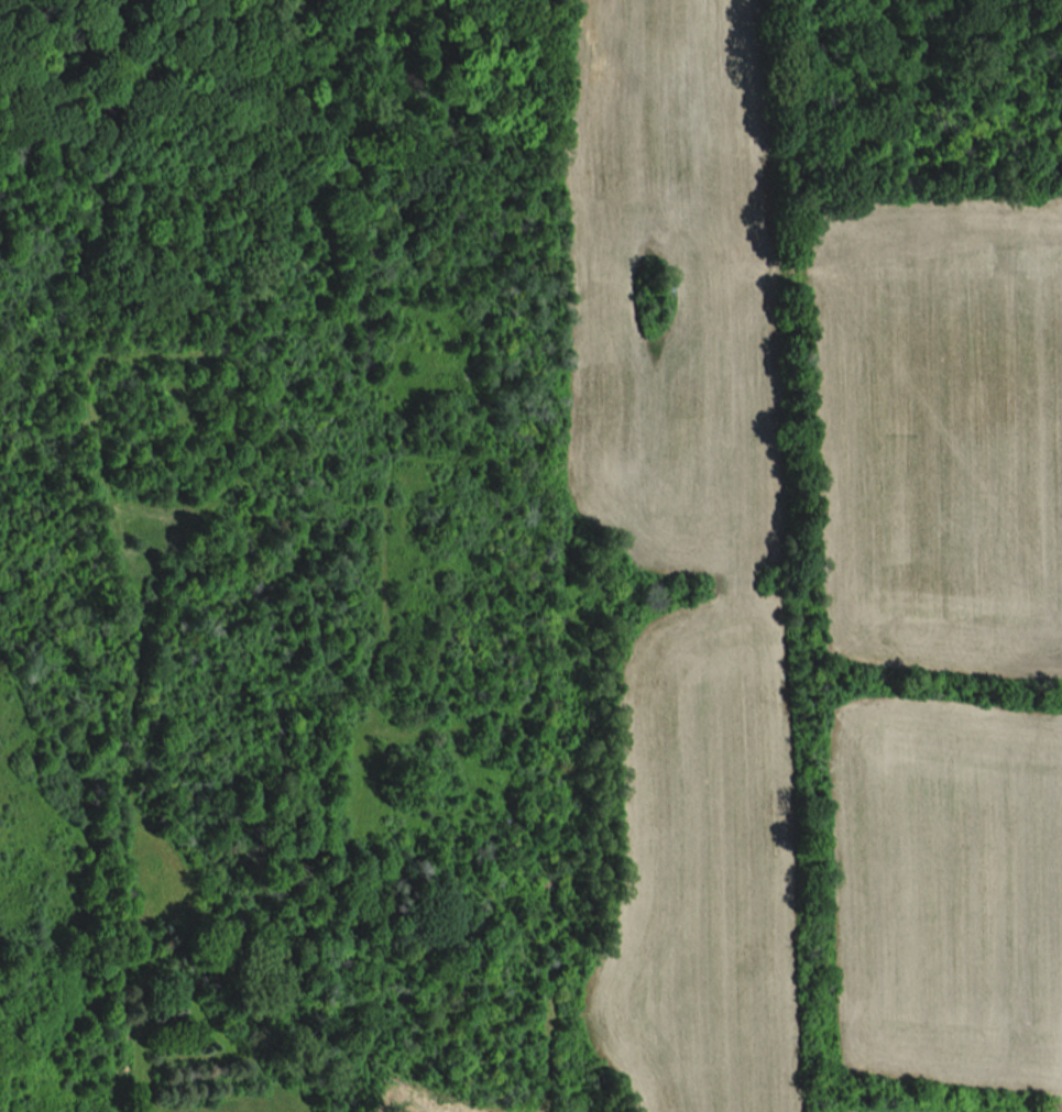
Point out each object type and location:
crop: (940, 432)
crop: (689, 543)
crop: (948, 895)

